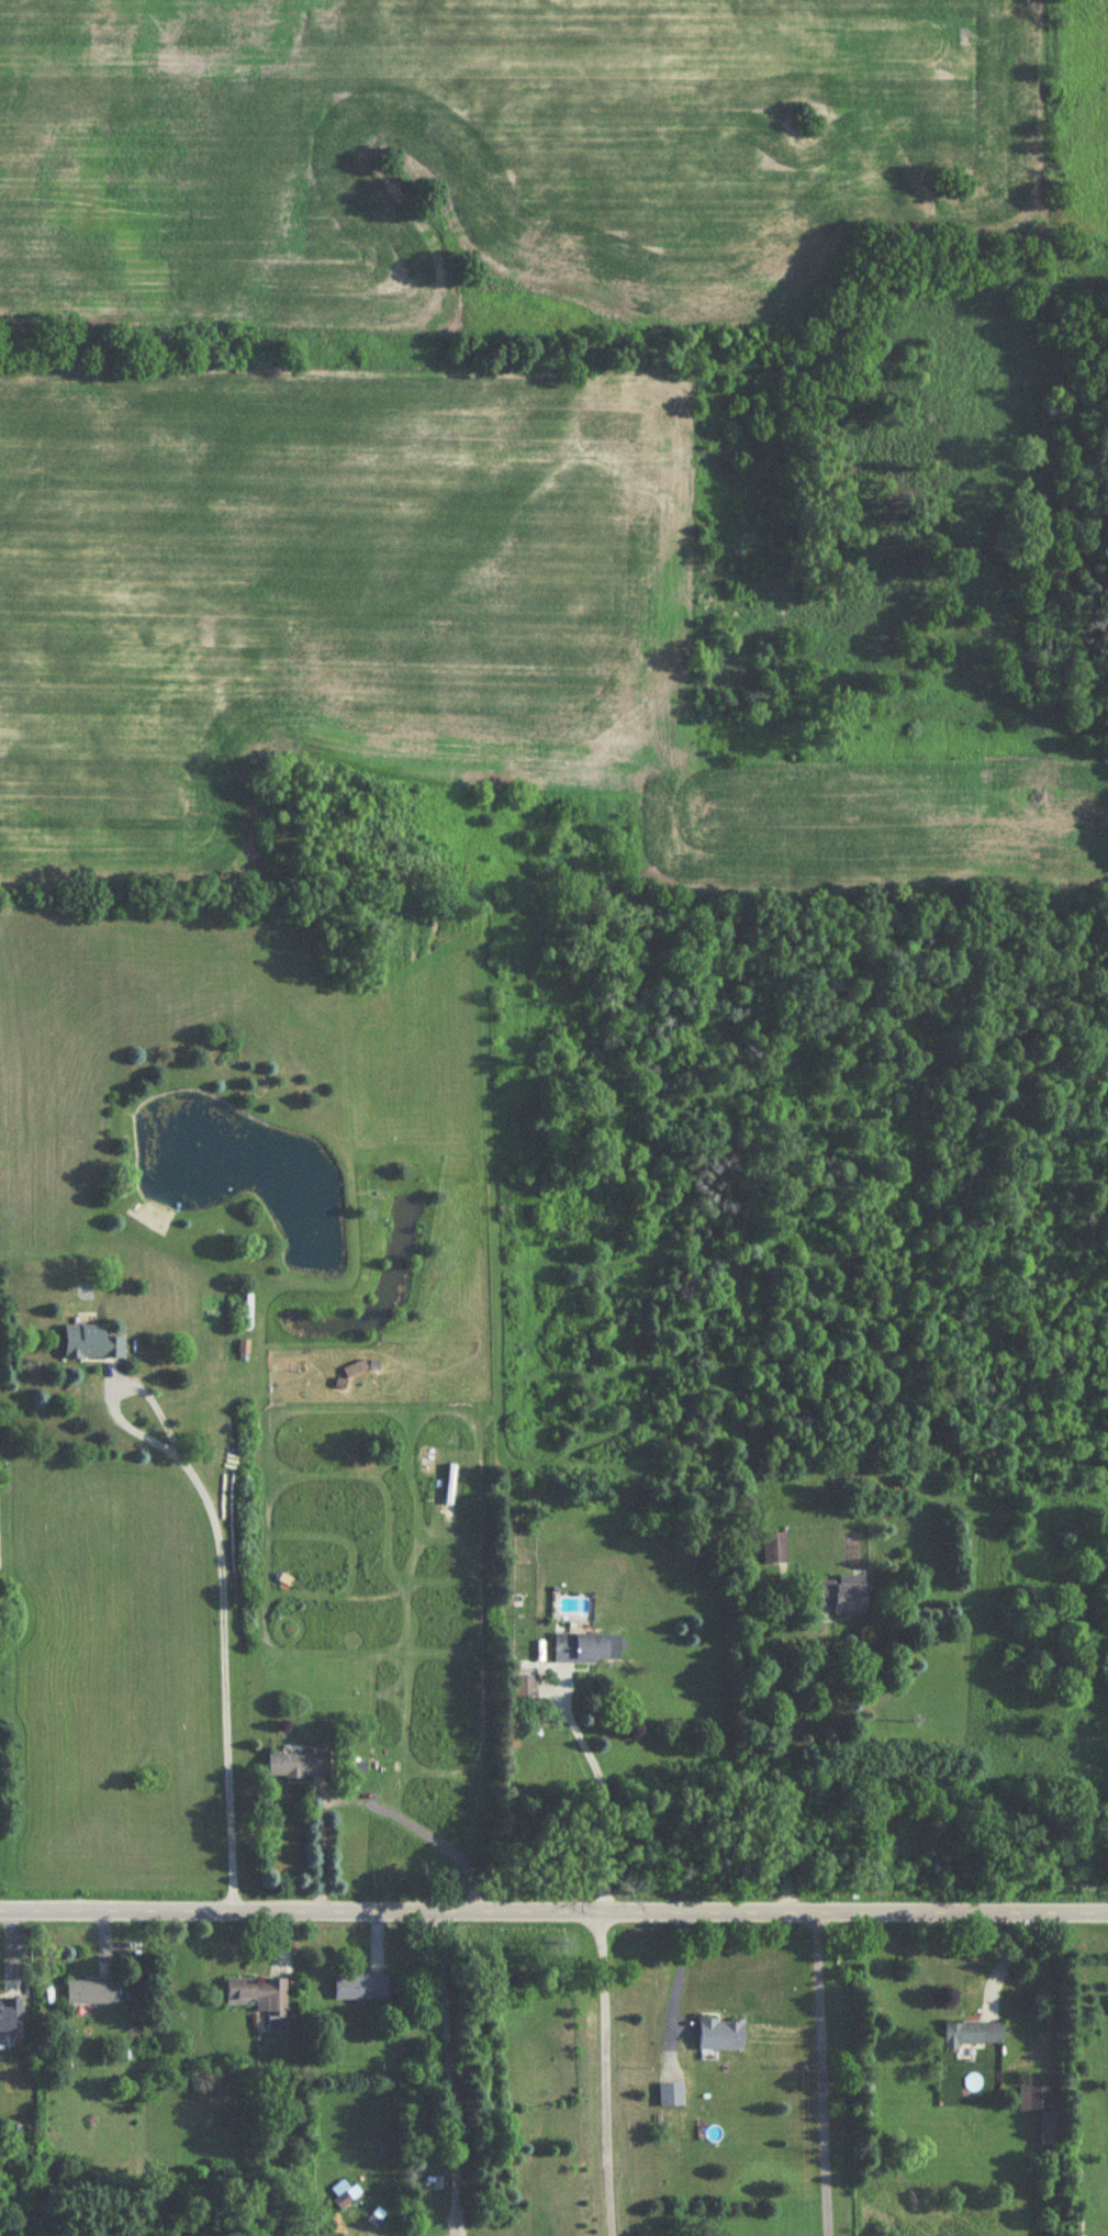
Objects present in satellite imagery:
building: (91, 1344)
building: (774, 1550)
road: (222, 1580)
building: (842, 1596)
building: (581, 1648)
building: (298, 1767)
road: (785, 1784)
road: (602, 1791)
road: (367, 1798)
road: (553, 1909)
building: (361, 1989)
road: (676, 1989)
building: (92, 1993)
building: (258, 1997)
building: (9, 2015)
building: (719, 2035)
building: (972, 2035)
road: (452, 2070)
road: (605, 2073)
road: (815, 2073)
building: (343, 2201)
building: (339, 2231)

